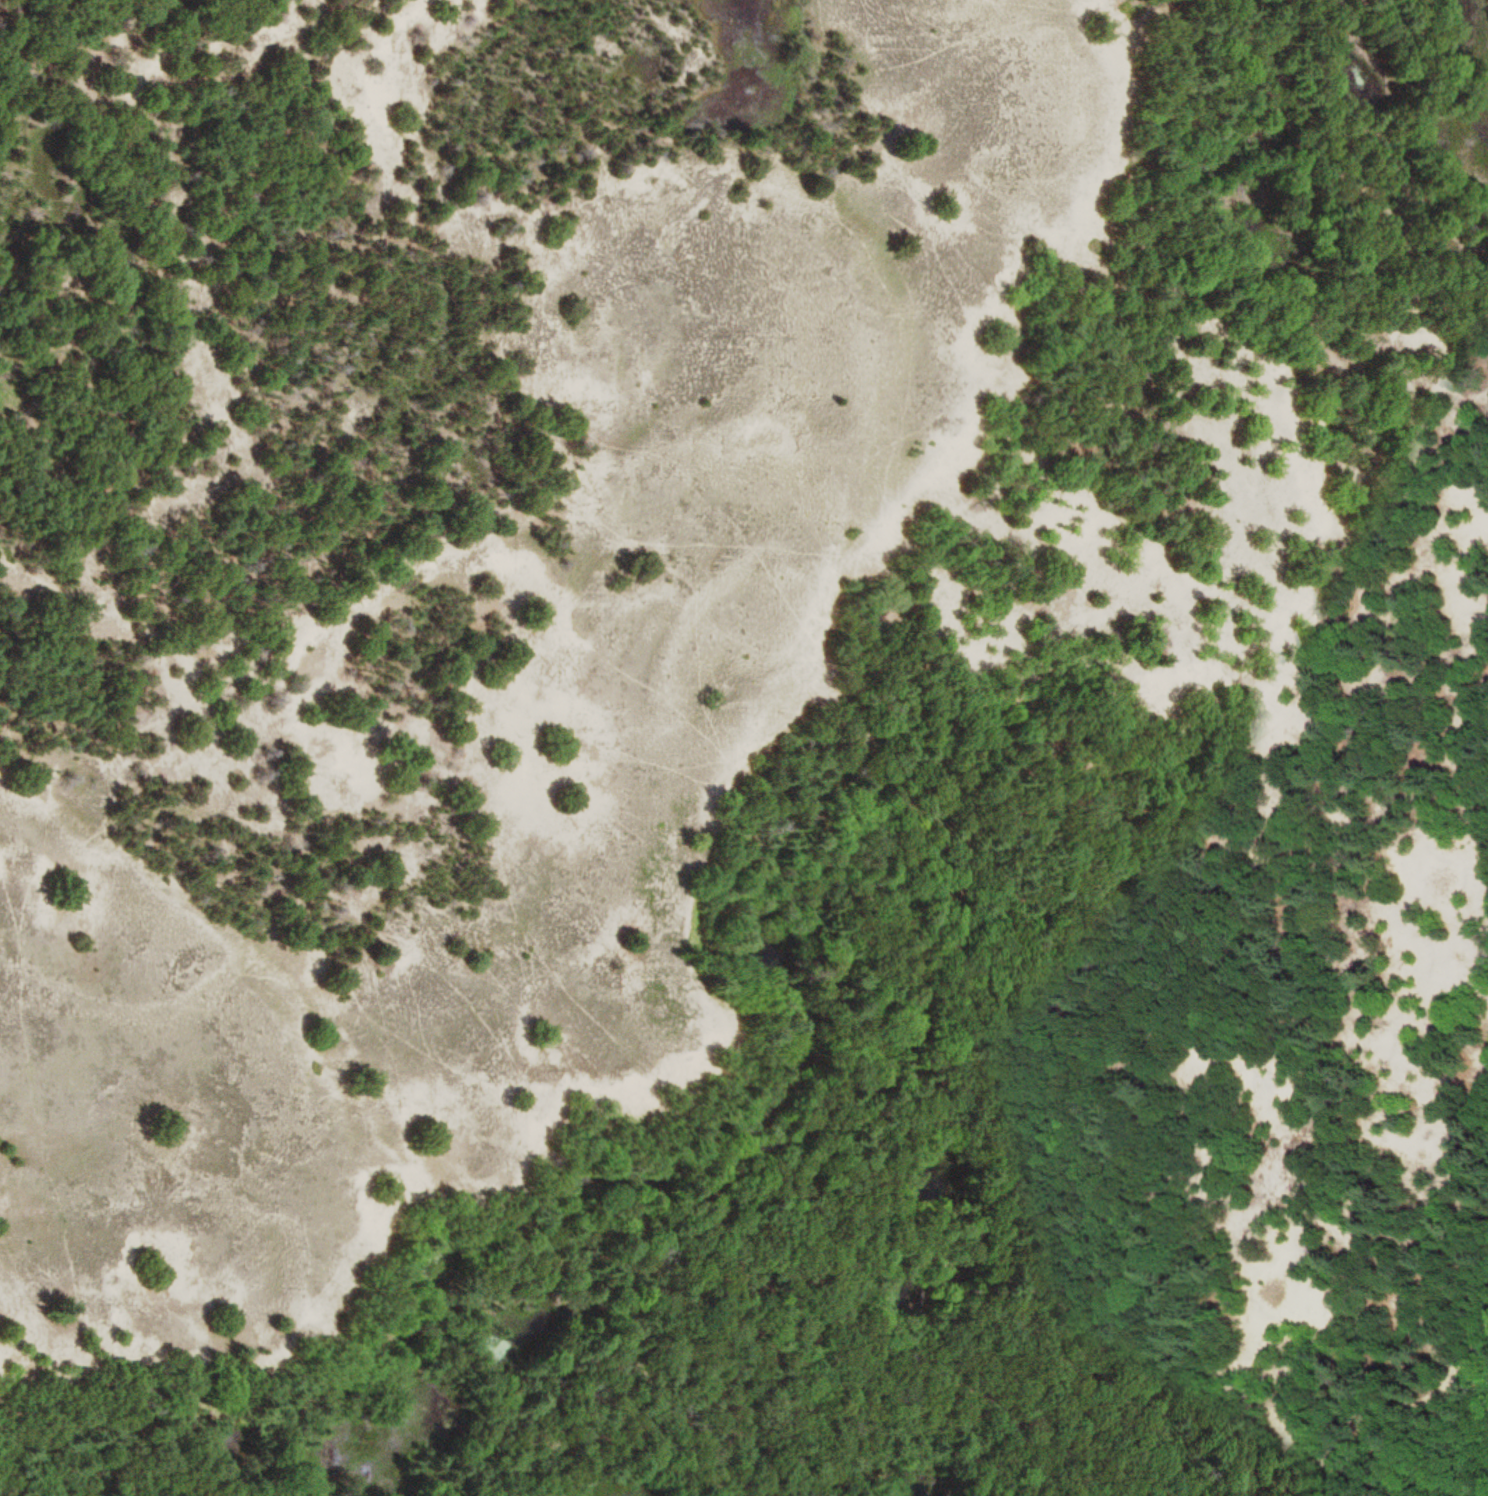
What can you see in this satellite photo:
park: (744, 748)
road: (1430, 1403)

